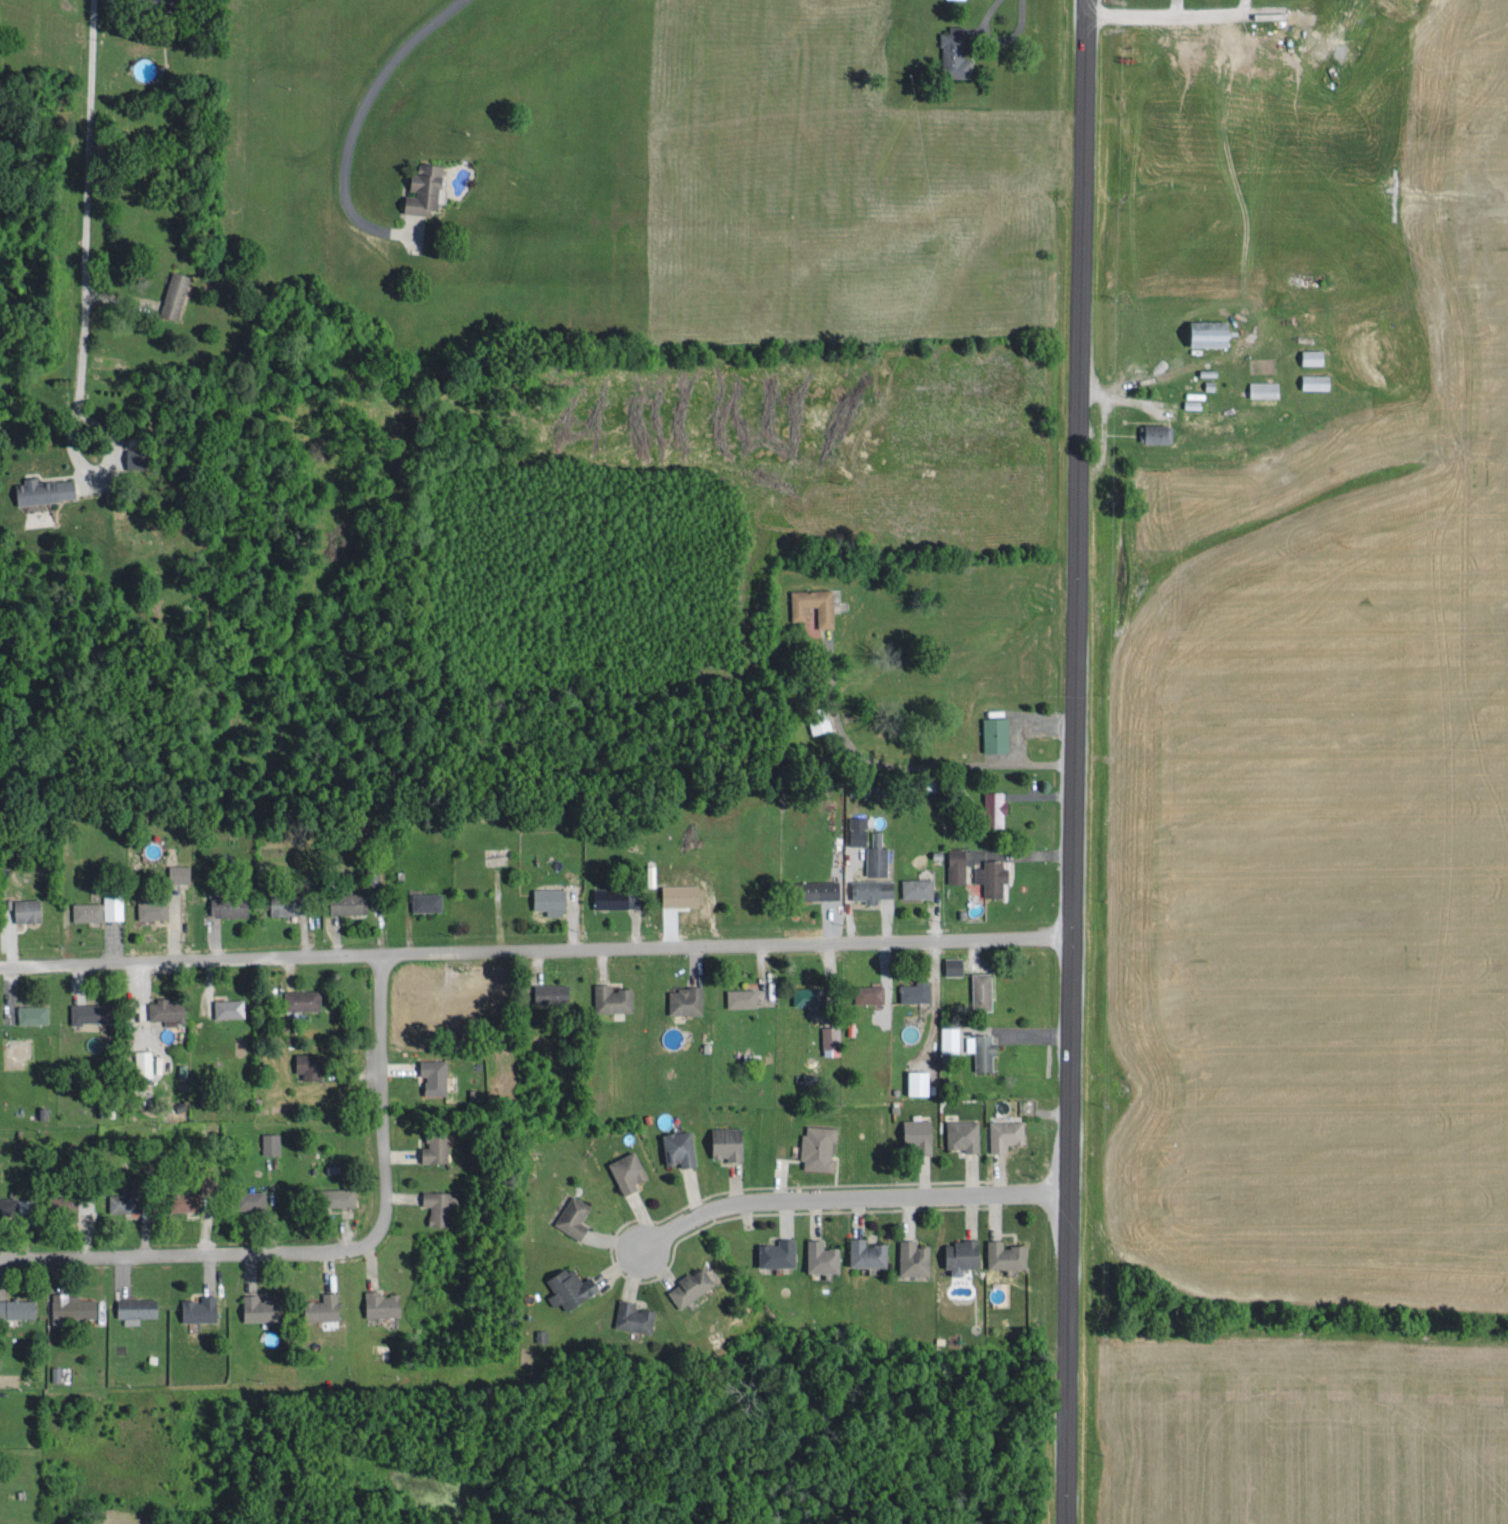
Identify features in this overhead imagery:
road: (1183, 12)
building: (954, 51)
building: (143, 68)
road: (356, 118)
road: (86, 155)
building: (426, 188)
building: (175, 293)
building: (1212, 332)
building: (1314, 355)
building: (1316, 380)
building: (1264, 387)
road: (76, 395)
building: (1156, 432)
building: (136, 456)
building: (45, 489)
building: (825, 612)
building: (820, 722)
building: (996, 732)
road: (1072, 761)
building: (995, 806)
building: (868, 844)
building: (956, 864)
building: (180, 871)
building: (992, 875)
building: (917, 886)
building: (822, 888)
building: (871, 888)
building: (550, 899)
building: (427, 900)
building: (348, 901)
building: (113, 903)
building: (287, 903)
building: (230, 904)
building: (27, 908)
building: (152, 908)
building: (87, 909)
road: (534, 947)
building: (953, 964)
building: (982, 987)
building: (915, 989)
building: (552, 991)
building: (869, 992)
building: (612, 996)
building: (741, 996)
building: (303, 997)
building: (807, 997)
building: (686, 998)
building: (229, 1006)
building: (166, 1008)
building: (93, 1011)
building: (33, 1012)
building: (949, 1037)
building: (831, 1038)
building: (981, 1048)
building: (145, 1061)
building: (311, 1063)
building: (435, 1074)
building: (919, 1080)
building: (918, 1131)
building: (963, 1132)
building: (1005, 1132)
building: (270, 1141)
building: (728, 1141)
building: (437, 1145)
building: (819, 1145)
building: (679, 1146)
building: (333, 1167)
building: (628, 1170)
building: (342, 1195)
road: (851, 1197)
building: (127, 1198)
building: (252, 1198)
building: (186, 1199)
building: (71, 1201)
building: (14, 1204)
building: (438, 1205)
building: (574, 1216)
road: (329, 1250)
building: (868, 1251)
building: (778, 1252)
building: (962, 1253)
building: (1006, 1253)
building: (822, 1255)
building: (914, 1256)
building: (691, 1285)
building: (571, 1286)
building: (382, 1302)
building: (73, 1304)
building: (17, 1306)
building: (324, 1306)
building: (136, 1307)
building: (200, 1307)
building: (260, 1307)
building: (634, 1315)
building: (55, 1372)

